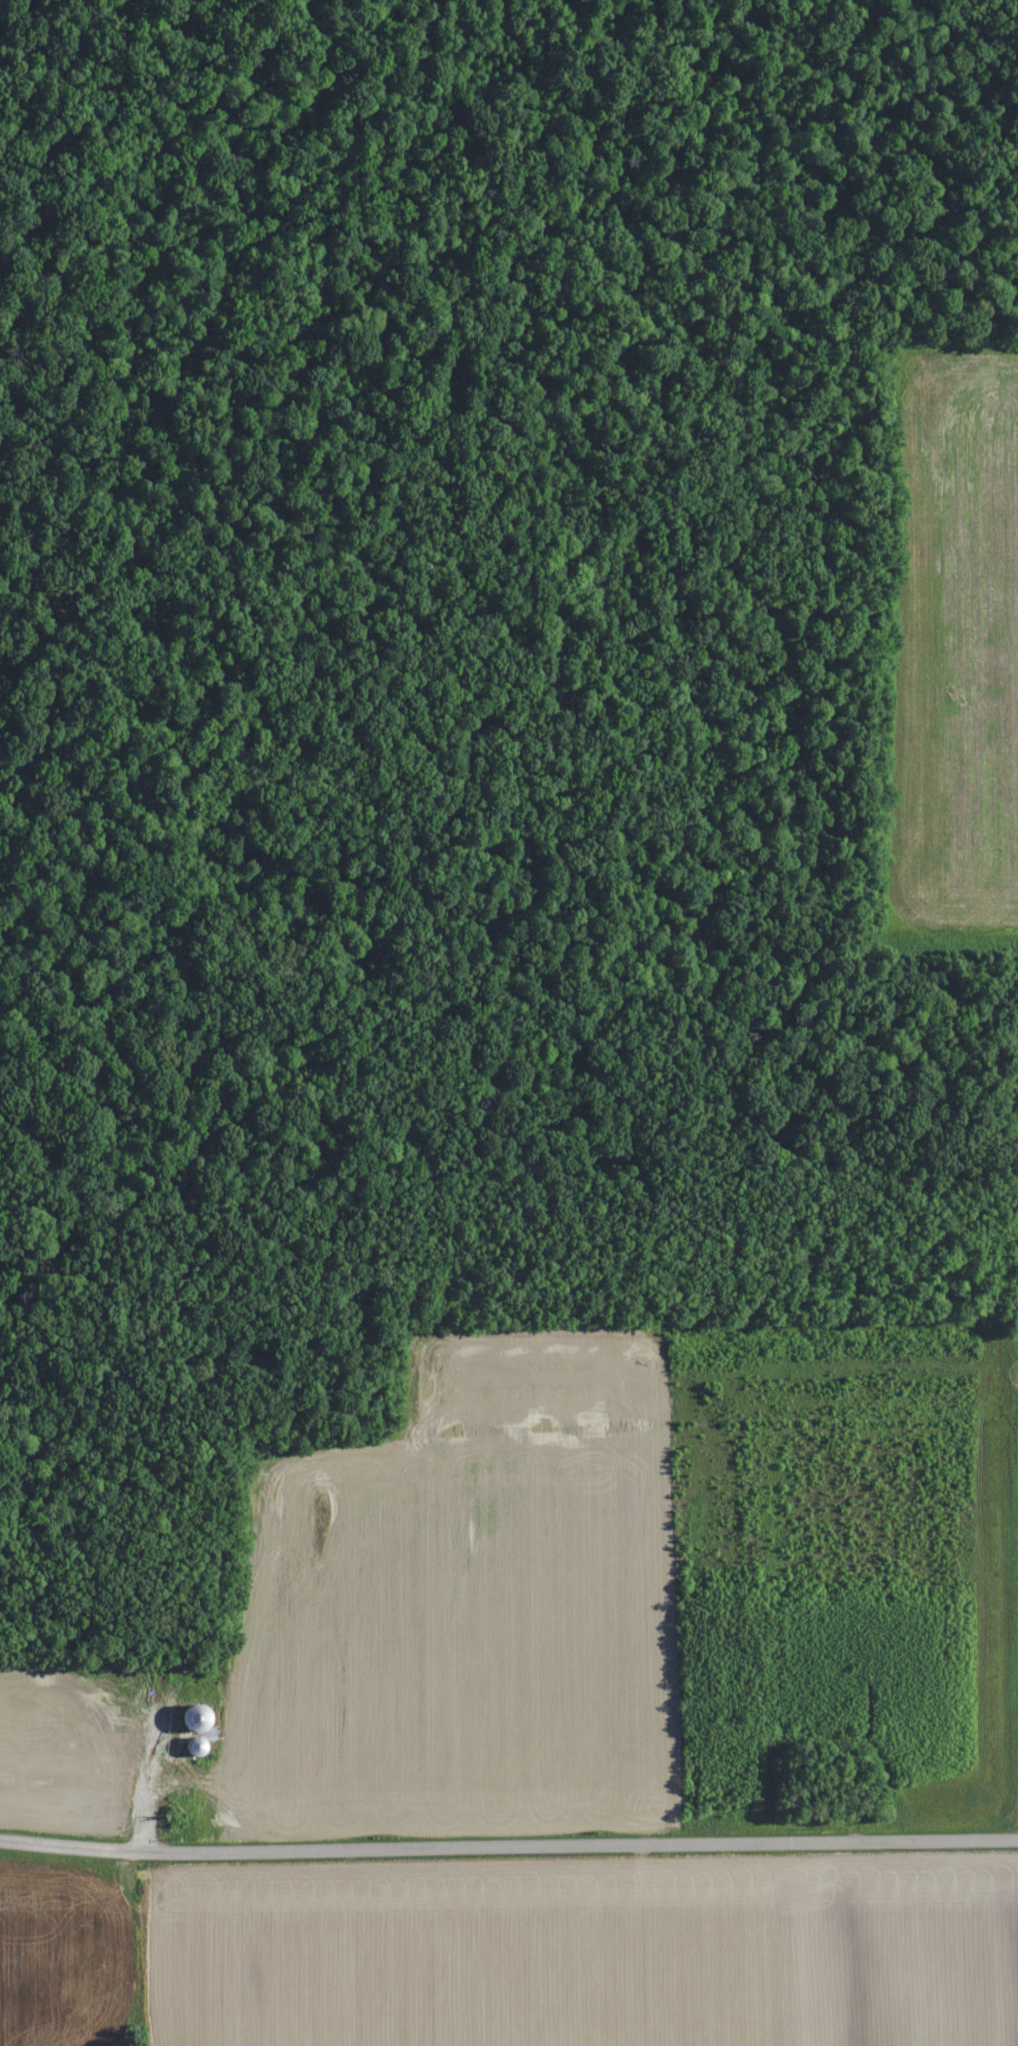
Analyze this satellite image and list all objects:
road: (159, 1787)
road: (508, 1845)

